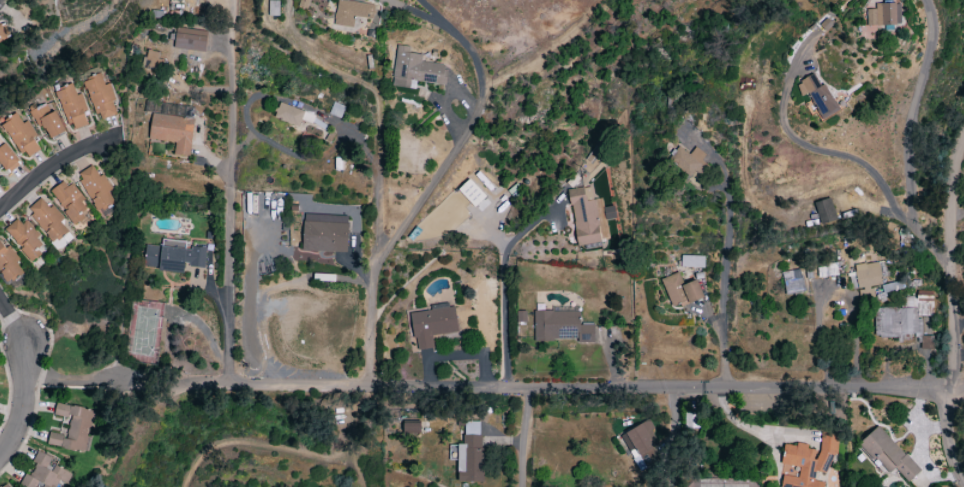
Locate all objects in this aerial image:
building: (304, 3)
building: (352, 13)
building: (883, 15)
building: (3, 32)
building: (189, 41)
building: (150, 59)
building: (415, 69)
building: (816, 97)
building: (100, 98)
building: (72, 107)
building: (288, 115)
road: (323, 116)
building: (47, 122)
building: (172, 132)
building: (21, 137)
road: (911, 141)
road: (832, 155)
building: (7, 159)
building: (687, 160)
road: (55, 168)
road: (435, 185)
building: (95, 188)
road: (377, 188)
road: (232, 193)
building: (471, 193)
building: (71, 204)
building: (824, 211)
building: (583, 216)
building: (47, 219)
building: (324, 237)
building: (24, 238)
building: (172, 256)
road: (723, 261)
building: (8, 265)
road: (359, 271)
building: (865, 276)
building: (792, 282)
road: (503, 284)
road: (362, 285)
road: (275, 288)
building: (680, 291)
road: (247, 310)
road: (953, 311)
building: (903, 318)
road: (13, 321)
road: (958, 324)
building: (431, 326)
building: (560, 326)
road: (817, 338)
road: (108, 383)
road: (578, 389)
road: (22, 404)
building: (411, 428)
road: (750, 428)
building: (71, 429)
road: (674, 437)
road: (525, 438)
building: (643, 445)
building: (470, 454)
building: (887, 454)
building: (808, 461)
building: (46, 474)
building: (6, 486)

